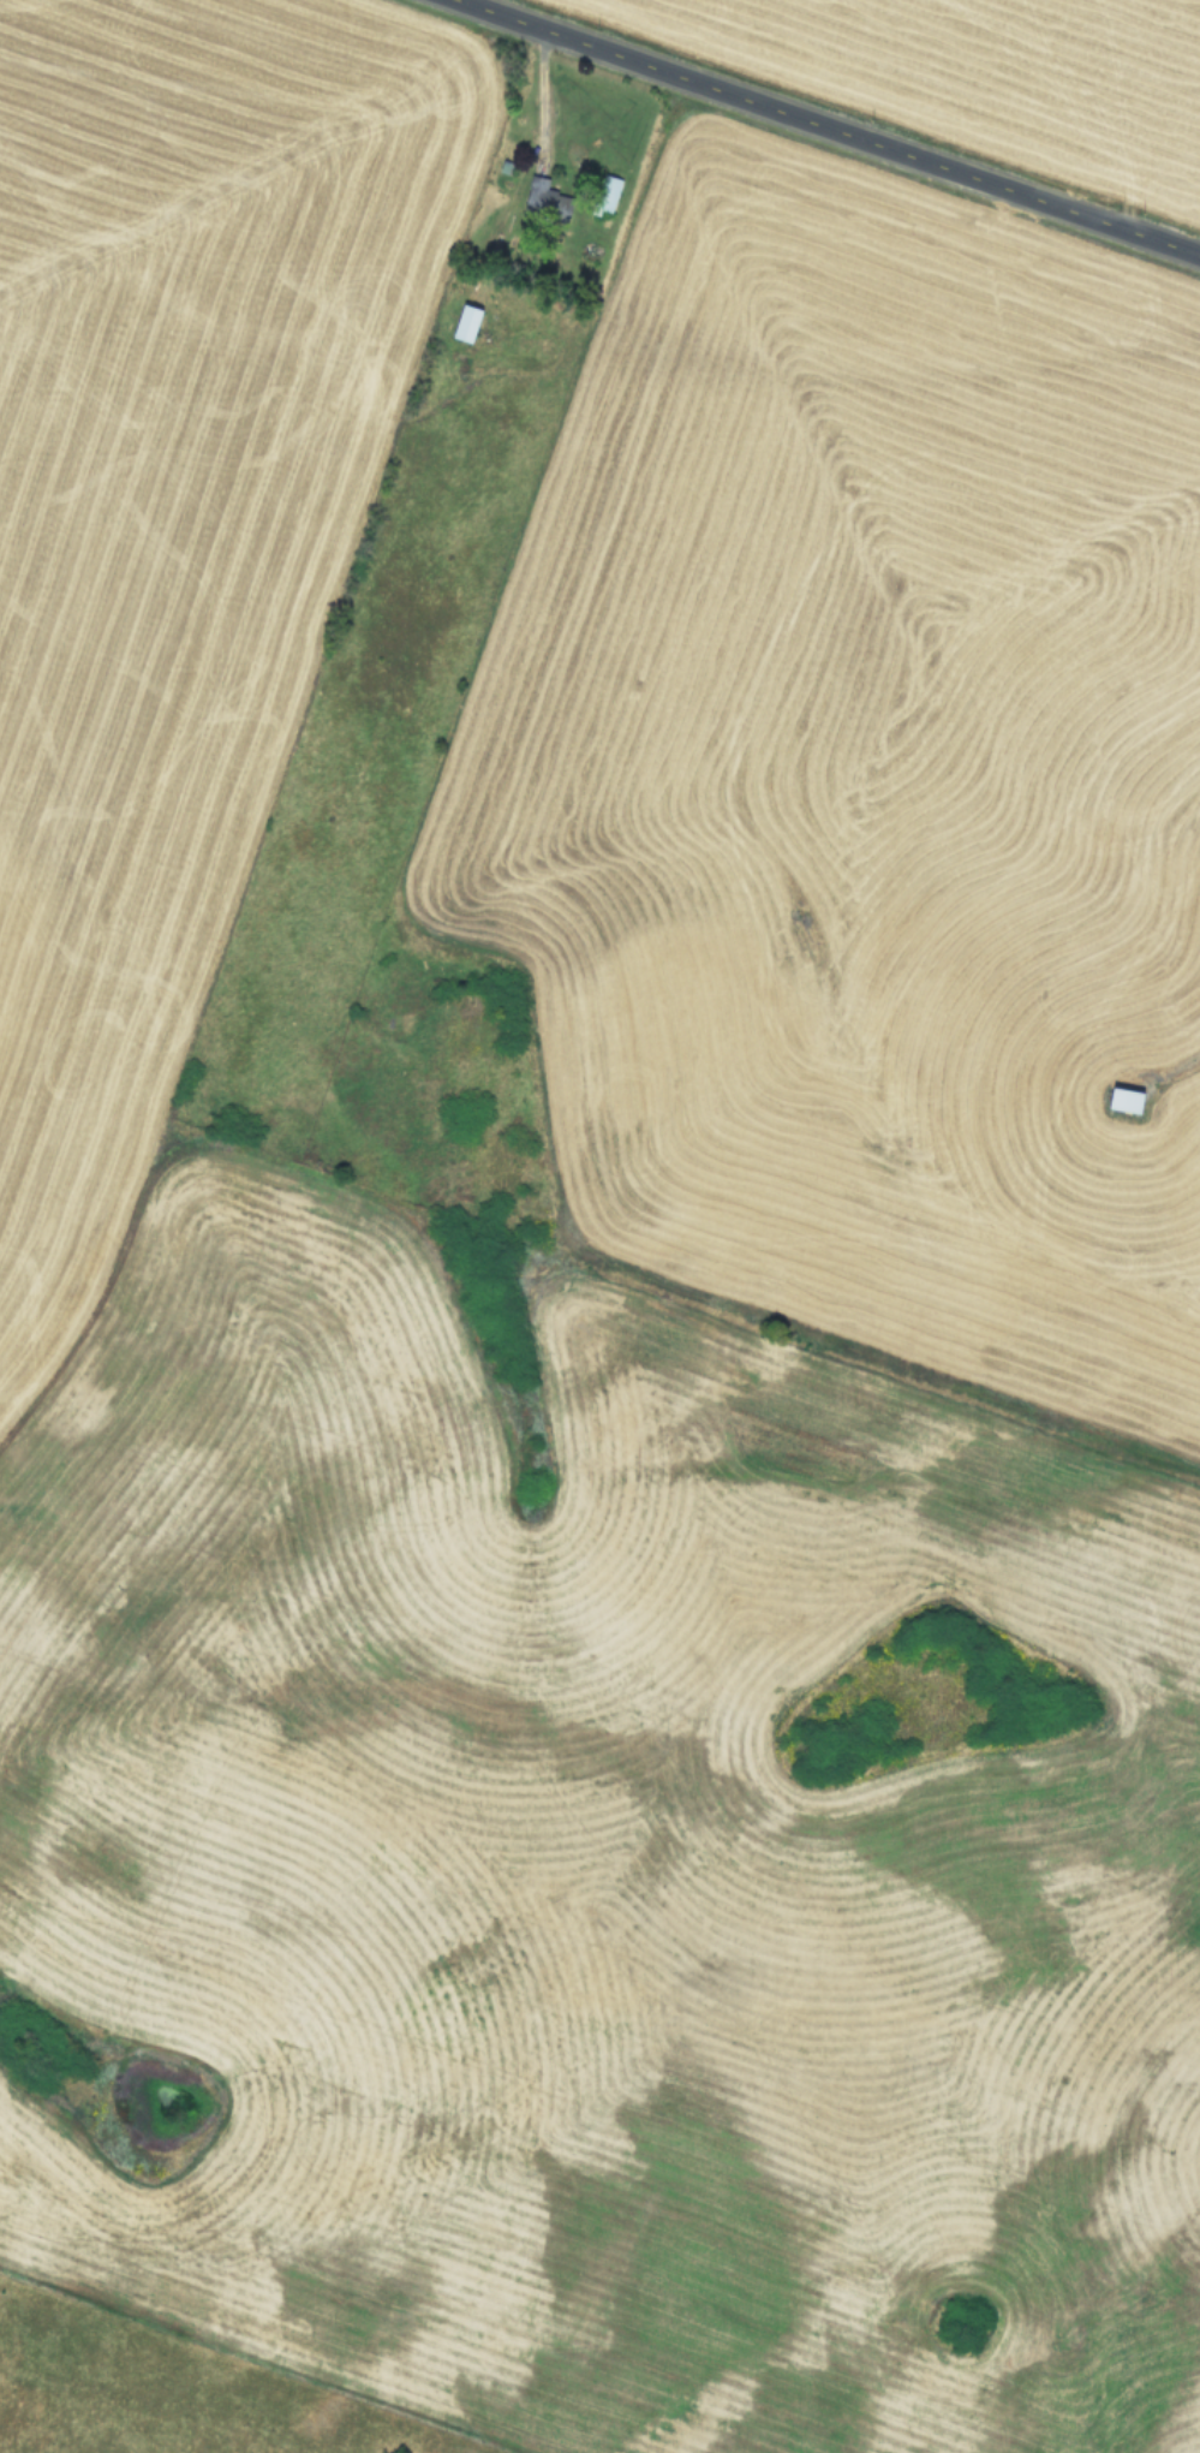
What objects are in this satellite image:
road: (830, 127)
building: (609, 185)
building: (468, 321)
building: (1117, 1100)
crop: (599, 1226)

